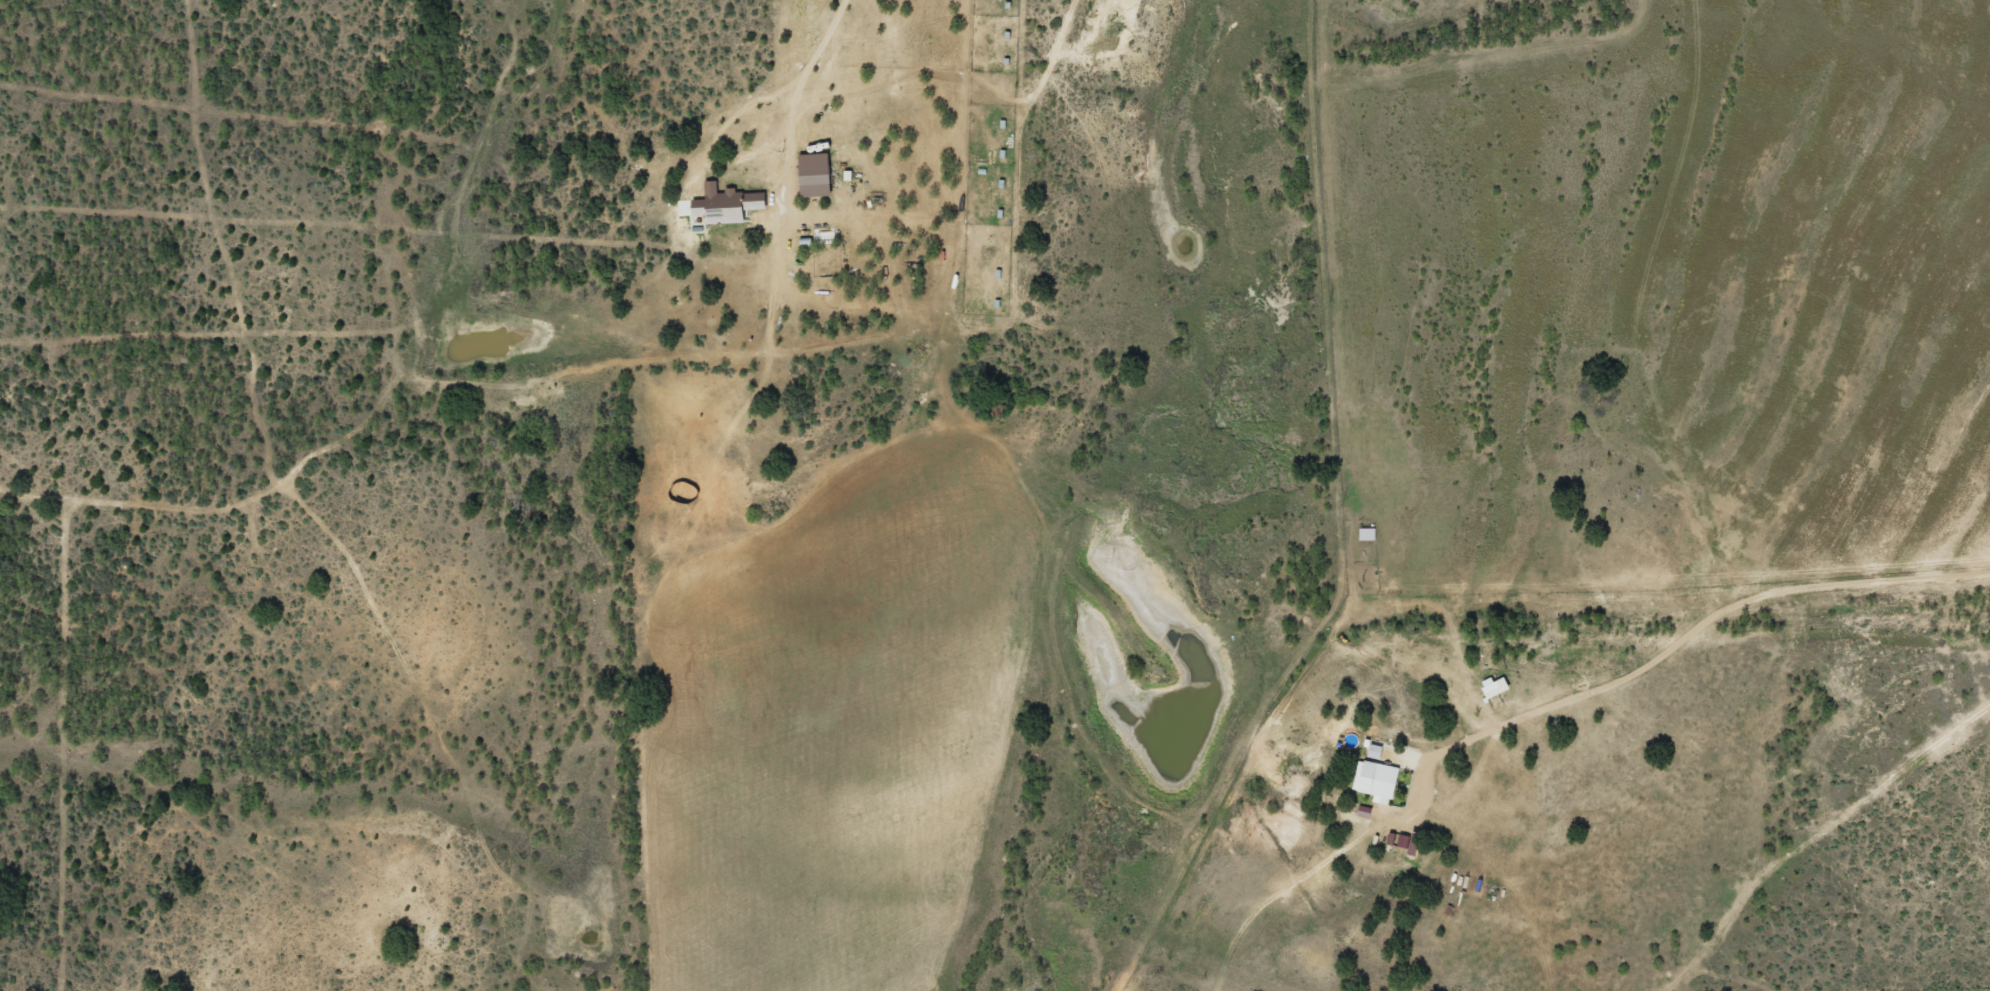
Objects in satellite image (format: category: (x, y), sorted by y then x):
road: (1697, 632)
building: (1369, 780)
road: (1833, 840)

